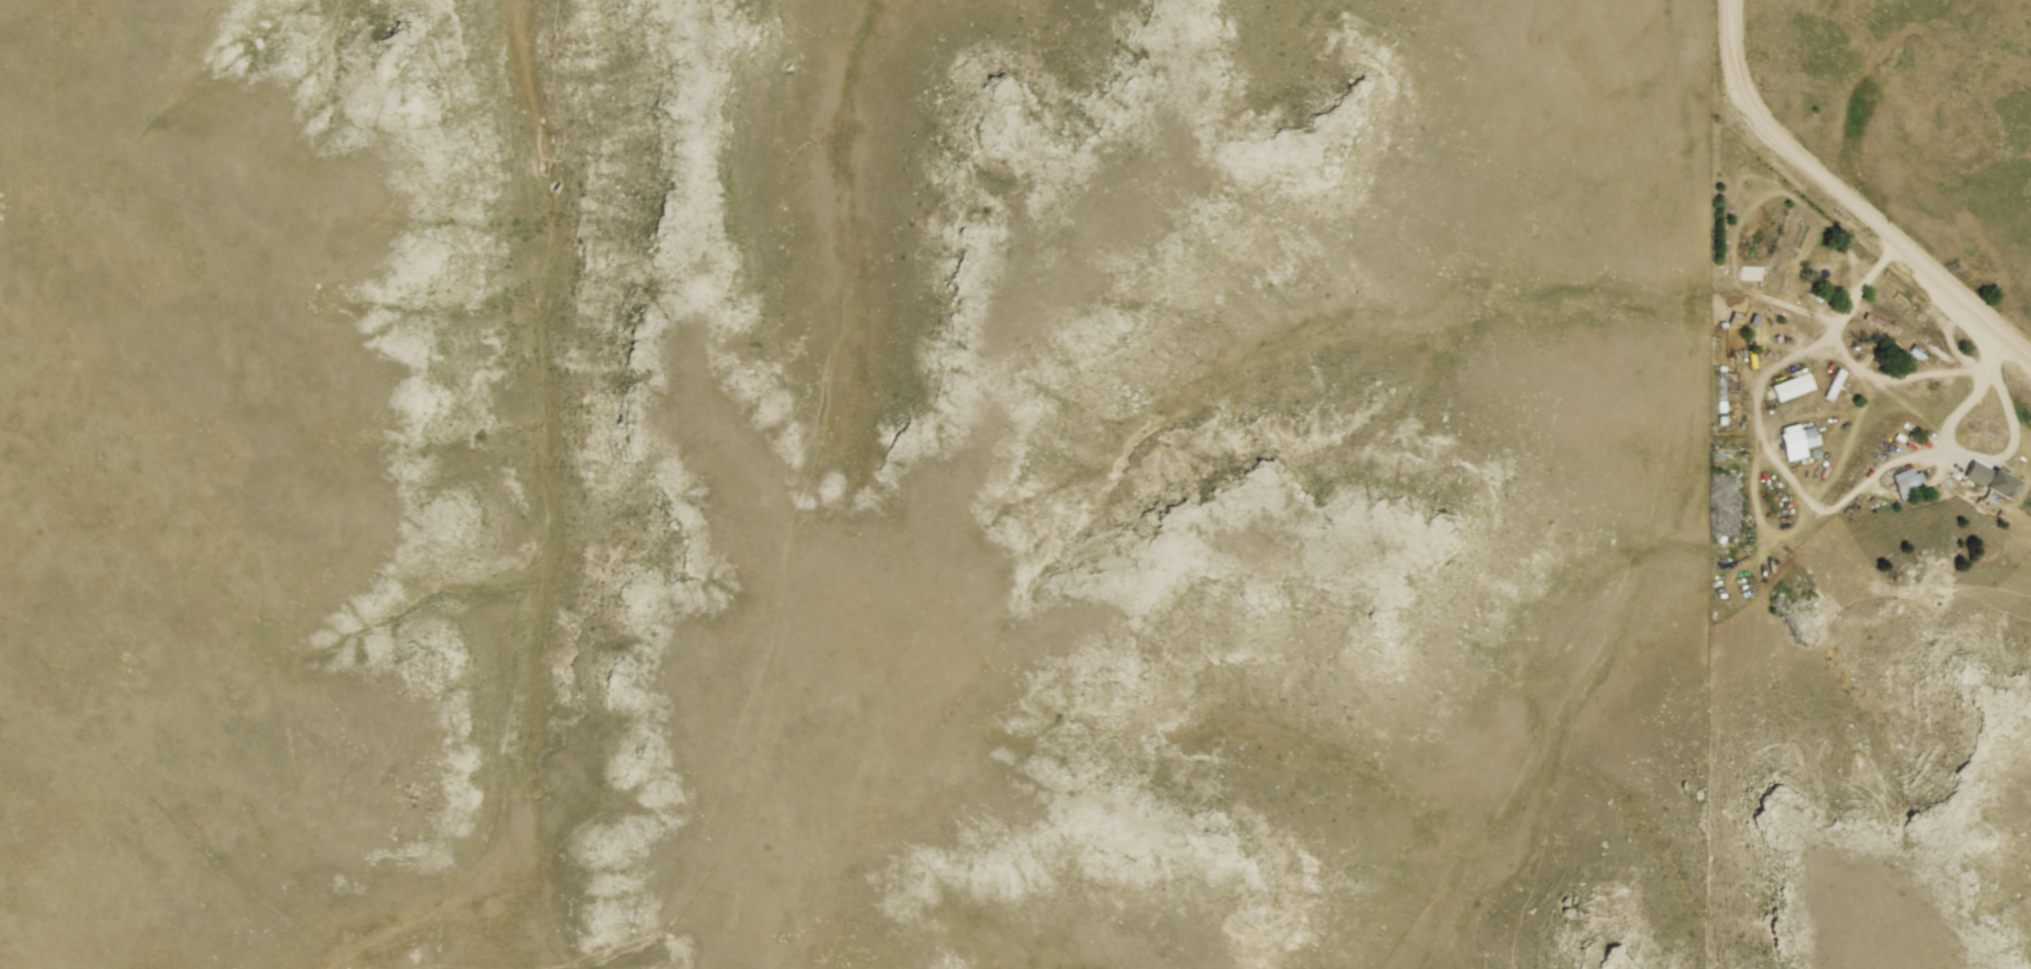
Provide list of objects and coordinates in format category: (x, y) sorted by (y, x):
road: (1842, 206)
building: (1748, 272)
building: (1876, 322)
building: (1870, 329)
building: (1831, 384)
building: (1824, 390)
building: (1782, 393)
road: (1965, 402)
road: (1843, 428)
building: (1807, 436)
building: (1979, 440)
building: (1788, 446)
building: (1962, 483)
building: (1998, 487)
building: (1897, 491)
road: (1839, 502)

